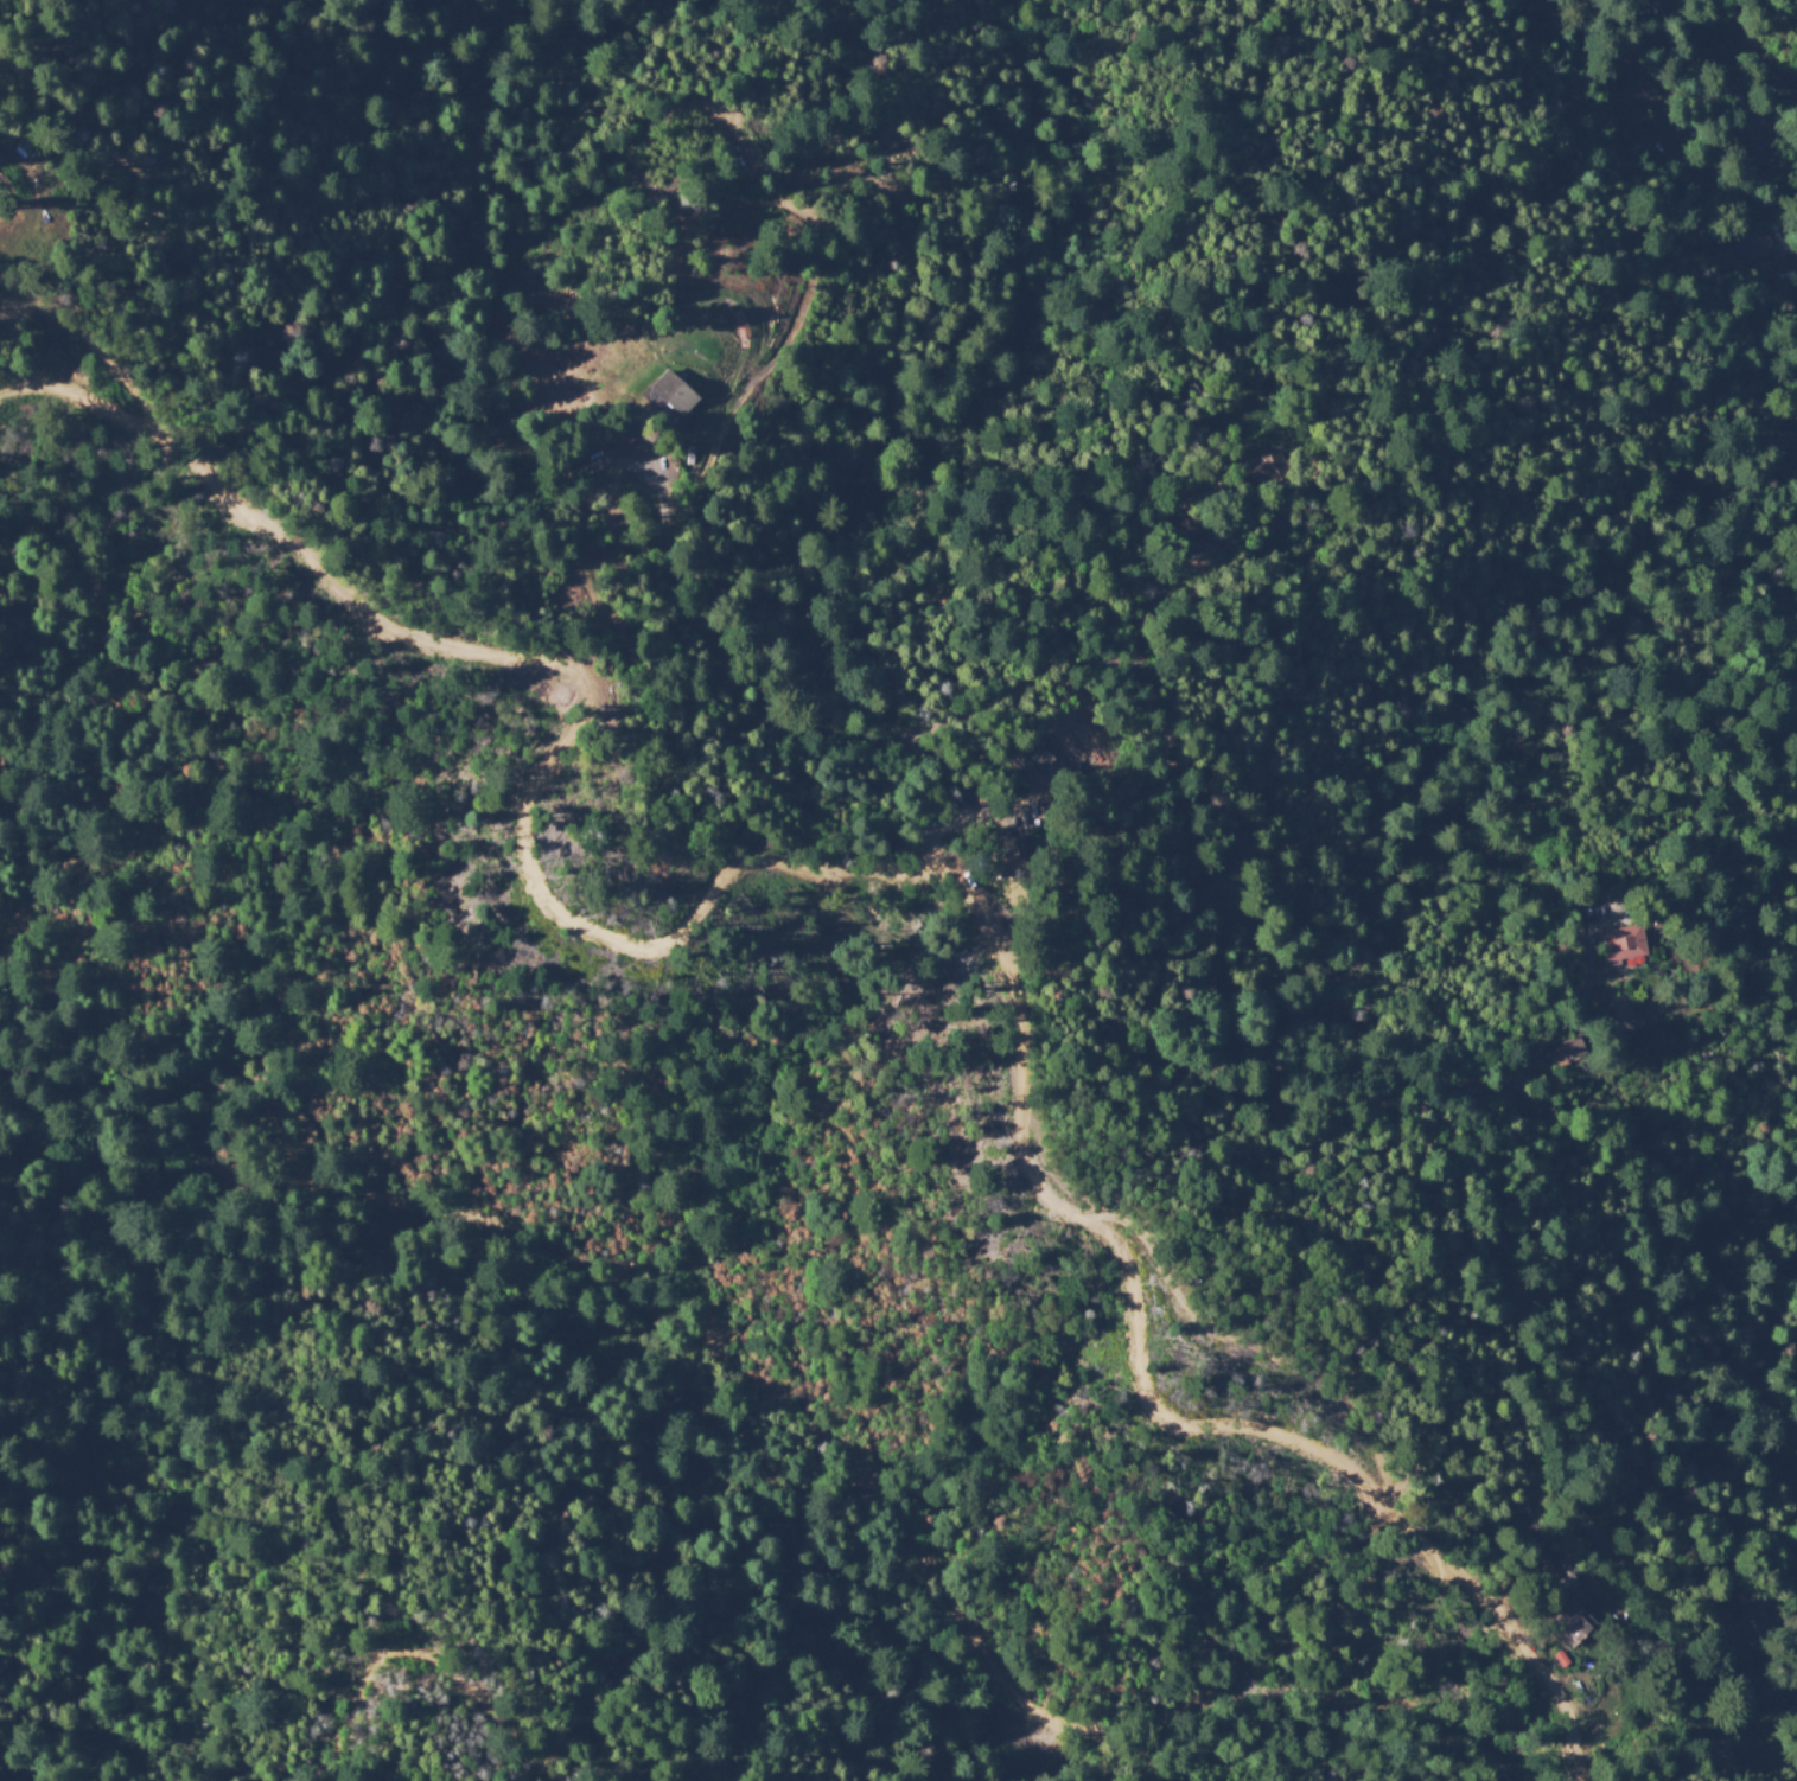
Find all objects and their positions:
building: (1623, 65)
road: (1473, 85)
road: (1737, 85)
building: (1649, 89)
building: (1752, 237)
building: (673, 394)
building: (1268, 472)
building: (980, 798)
building: (1245, 851)
building: (1006, 854)
road: (852, 870)
building: (1626, 940)
building: (1570, 1049)
river: (584, 1306)
building: (1537, 1534)
building: (1538, 1565)
building: (1747, 1604)
building: (1570, 1624)
building: (1766, 1700)

